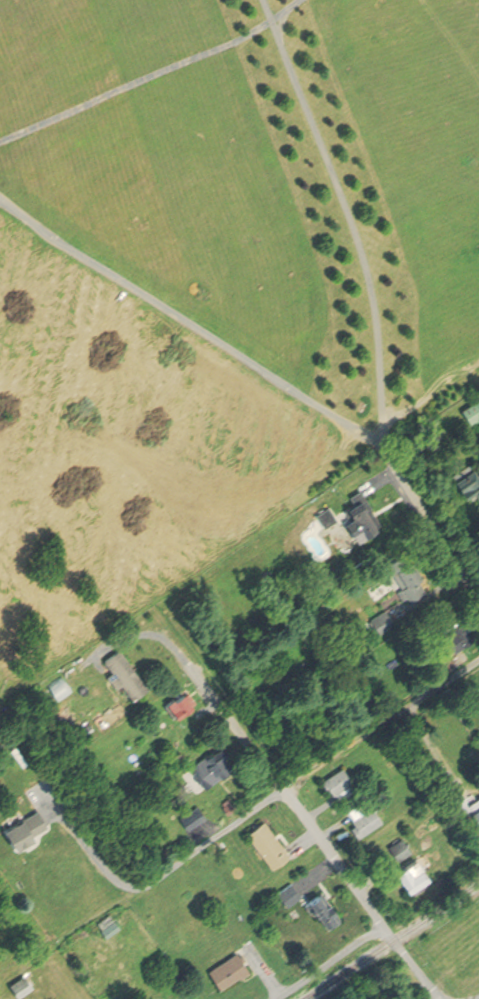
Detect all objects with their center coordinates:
road: (271, 9)
road: (150, 71)
road: (373, 312)
road: (192, 331)
building: (476, 411)
road: (445, 680)
road: (306, 815)
road: (160, 879)
railway: (393, 943)
road: (332, 964)
road: (63, 980)

